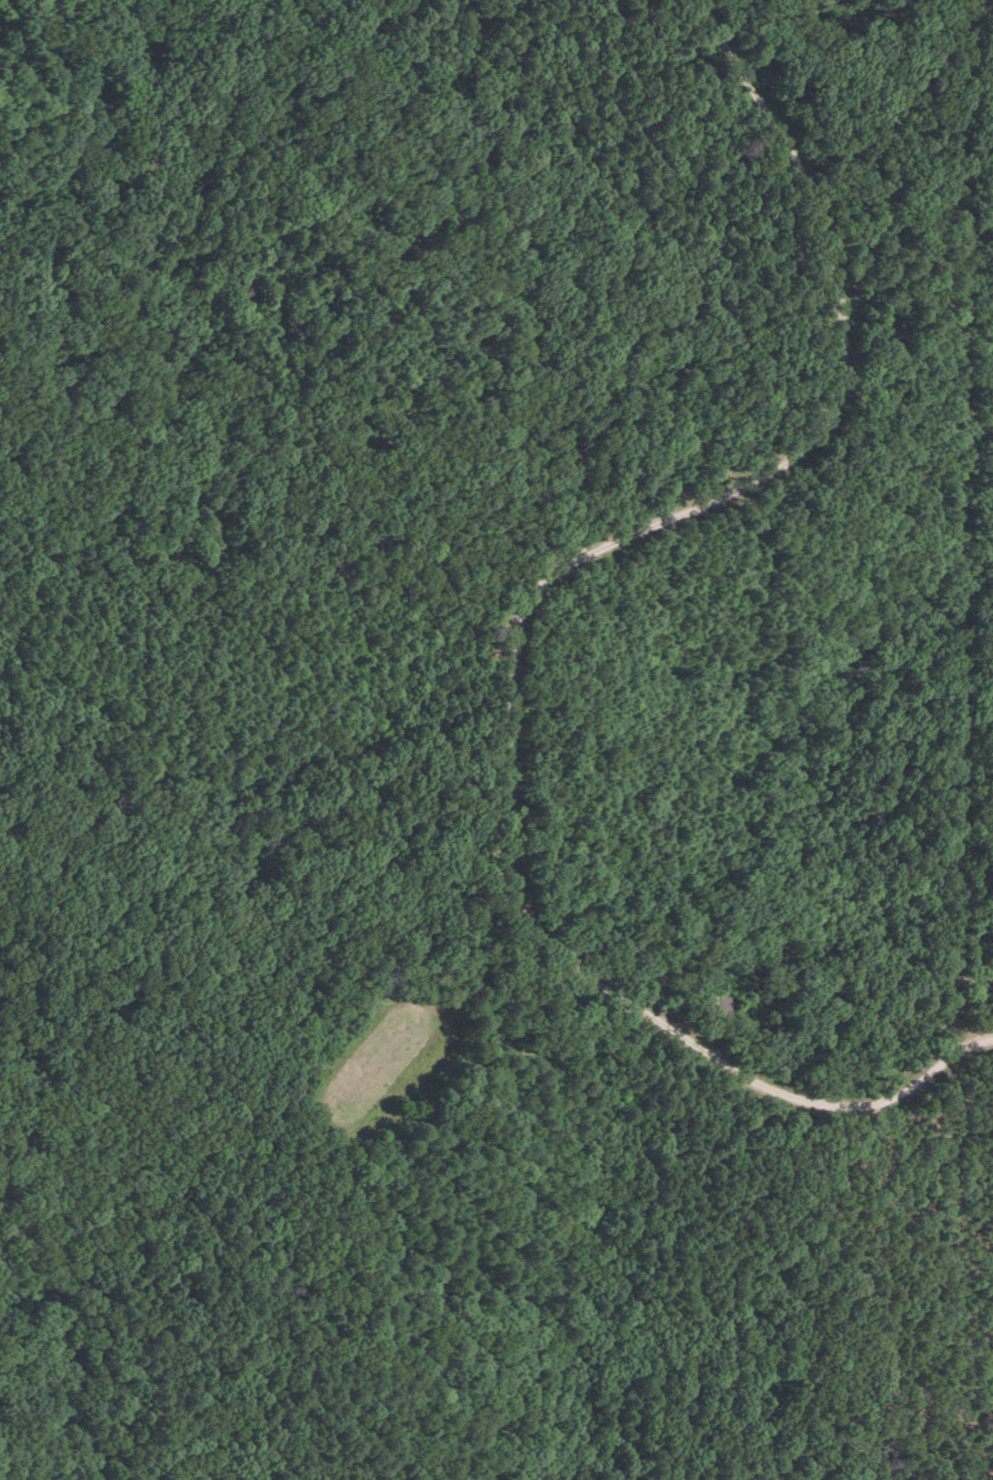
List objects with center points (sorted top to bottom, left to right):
road: (516, 627)

